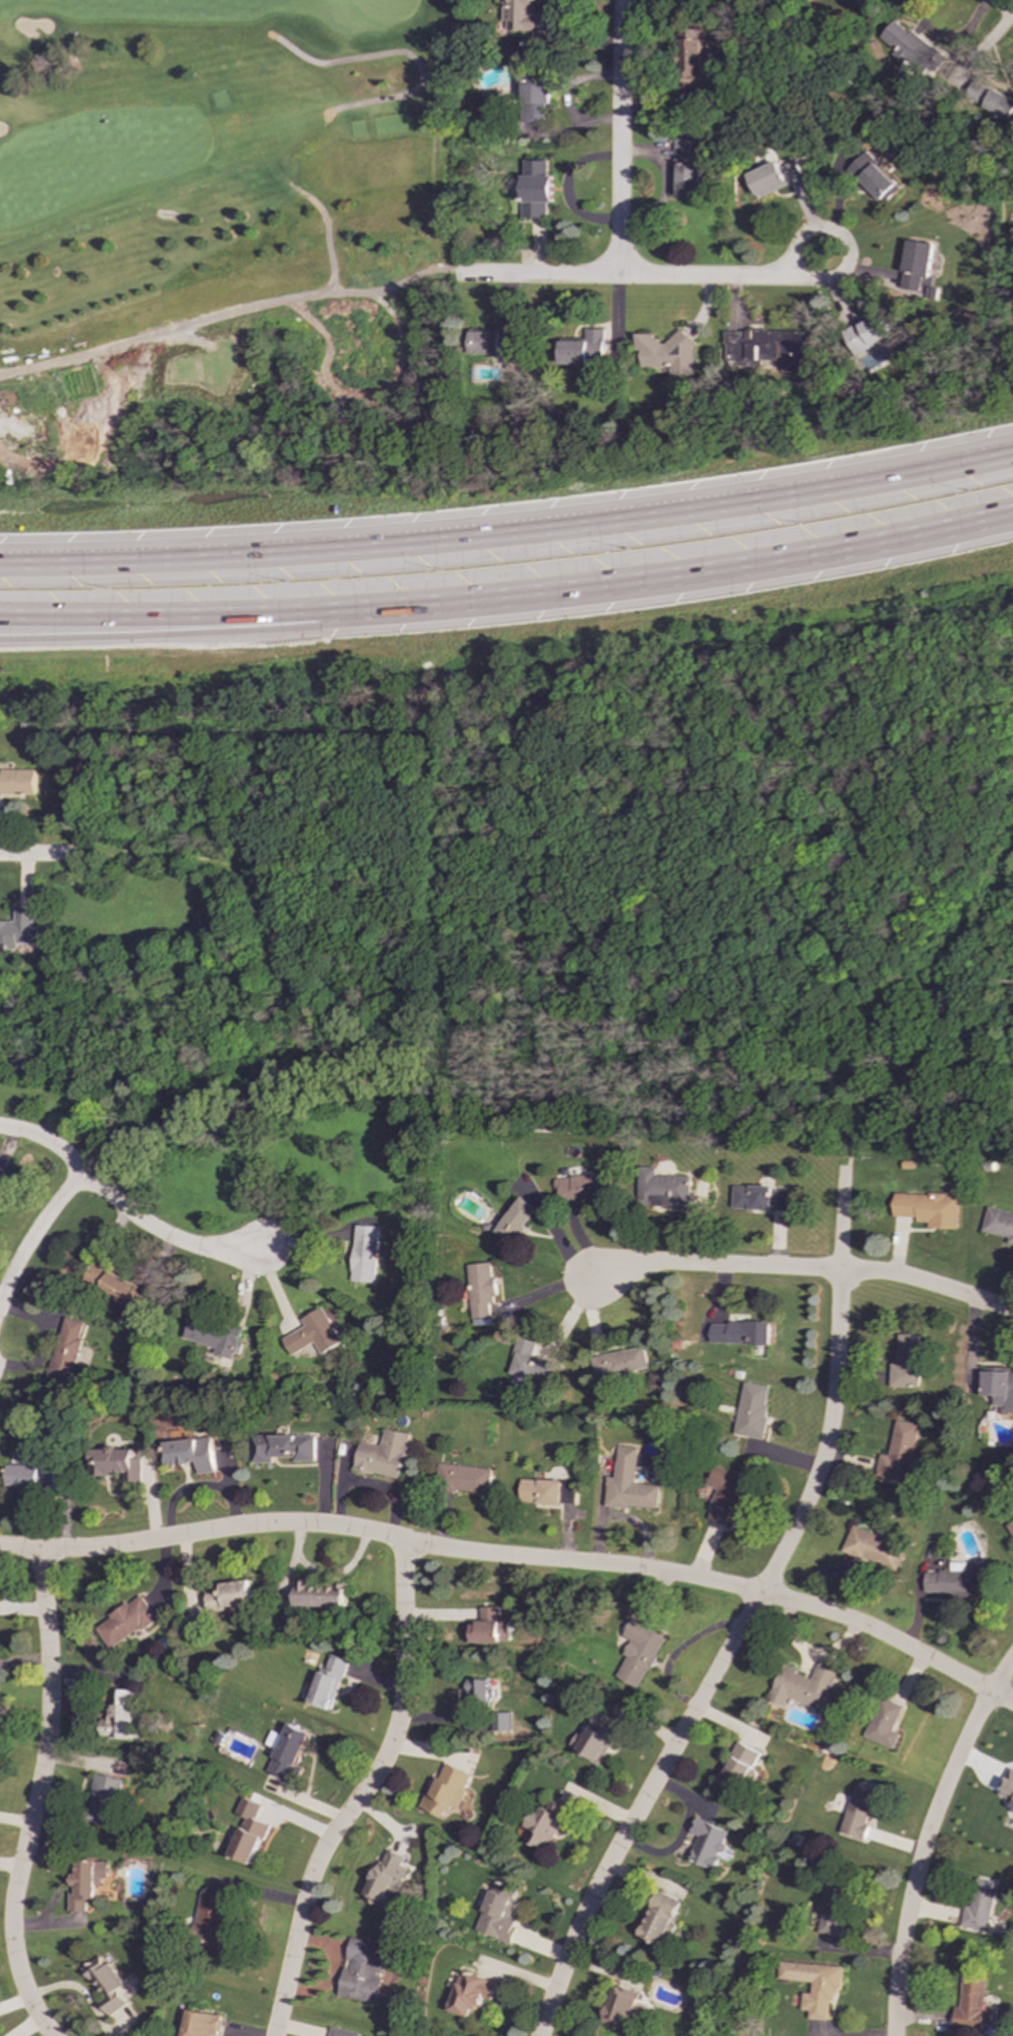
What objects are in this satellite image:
building: (859, 2)
road: (1003, 6)
building: (527, 18)
building: (911, 46)
road: (401, 52)
building: (691, 58)
building: (537, 97)
building: (991, 100)
road: (619, 136)
building: (686, 170)
building: (775, 178)
building: (874, 178)
building: (537, 189)
park: (228, 239)
road: (848, 257)
building: (918, 266)
road: (626, 274)
road: (225, 312)
building: (867, 333)
building: (496, 341)
building: (769, 348)
building: (584, 349)
building: (668, 353)
road: (508, 529)
road: (678, 574)
road: (170, 613)
road: (170, 629)
building: (17, 783)
road: (37, 855)
park: (547, 902)
building: (18, 929)
road: (898, 991)
road: (369, 1038)
road: (184, 1097)
road: (825, 1099)
building: (589, 1188)
building: (668, 1189)
building: (762, 1198)
building: (929, 1209)
road: (127, 1212)
building: (522, 1220)
building: (999, 1223)
road: (35, 1232)
building: (370, 1254)
road: (808, 1269)
building: (117, 1286)
building: (490, 1293)
building: (72, 1332)
building: (216, 1333)
building: (745, 1333)
building: (320, 1334)
building: (630, 1362)
building: (907, 1362)
building: (537, 1366)
building: (998, 1390)
building: (755, 1411)
building: (293, 1448)
building: (197, 1454)
building: (899, 1454)
building: (395, 1455)
building: (122, 1464)
building: (32, 1478)
building: (476, 1479)
building: (635, 1485)
building: (549, 1491)
building: (728, 1494)
building: (576, 1495)
road: (21, 1548)
building: (872, 1549)
road: (539, 1558)
building: (956, 1580)
building: (330, 1594)
building: (238, 1595)
road: (746, 1617)
building: (130, 1622)
building: (496, 1628)
building: (641, 1652)
building: (336, 1681)
building: (801, 1686)
building: (485, 1691)
building: (121, 1715)
building: (506, 1721)
building: (883, 1722)
building: (598, 1738)
building: (291, 1752)
building: (740, 1768)
building: (1008, 1786)
building: (450, 1791)
road: (367, 1794)
road: (37, 1798)
building: (105, 1799)
building: (1012, 1809)
building: (858, 1812)
building: (546, 1824)
building: (251, 1831)
road: (926, 1838)
building: (707, 1843)
building: (390, 1876)
building: (87, 1883)
building: (979, 1905)
building: (832, 1906)
building: (499, 1913)
building: (659, 1918)
building: (215, 1925)
building: (364, 1970)
building: (107, 1984)
building: (813, 1985)
building: (470, 1993)
building: (970, 2004)
building: (620, 2008)
building: (201, 2023)
building: (344, 2032)

